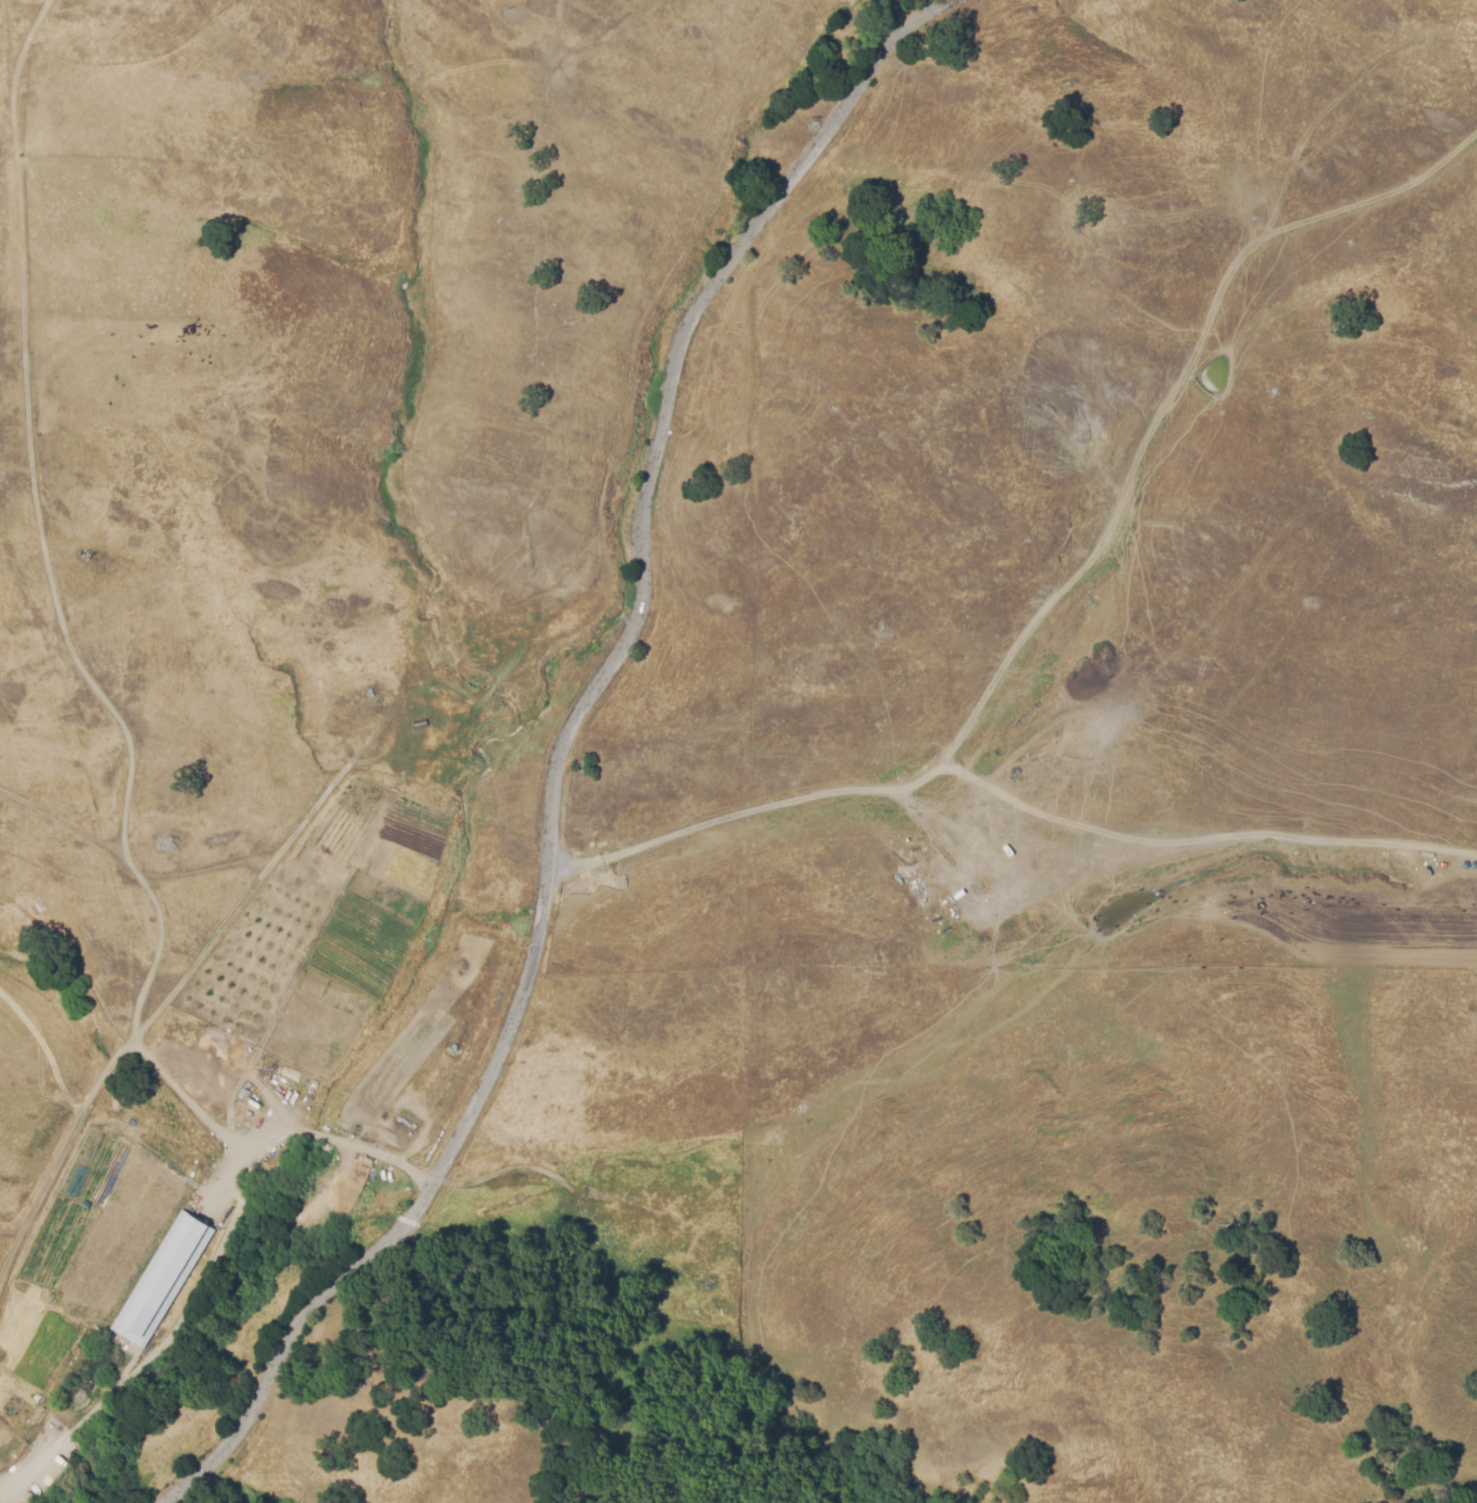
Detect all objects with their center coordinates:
road: (1070, 578)
road: (563, 755)
road: (1009, 879)
building: (917, 892)
building: (951, 904)
road: (311, 1132)
building: (160, 1277)

